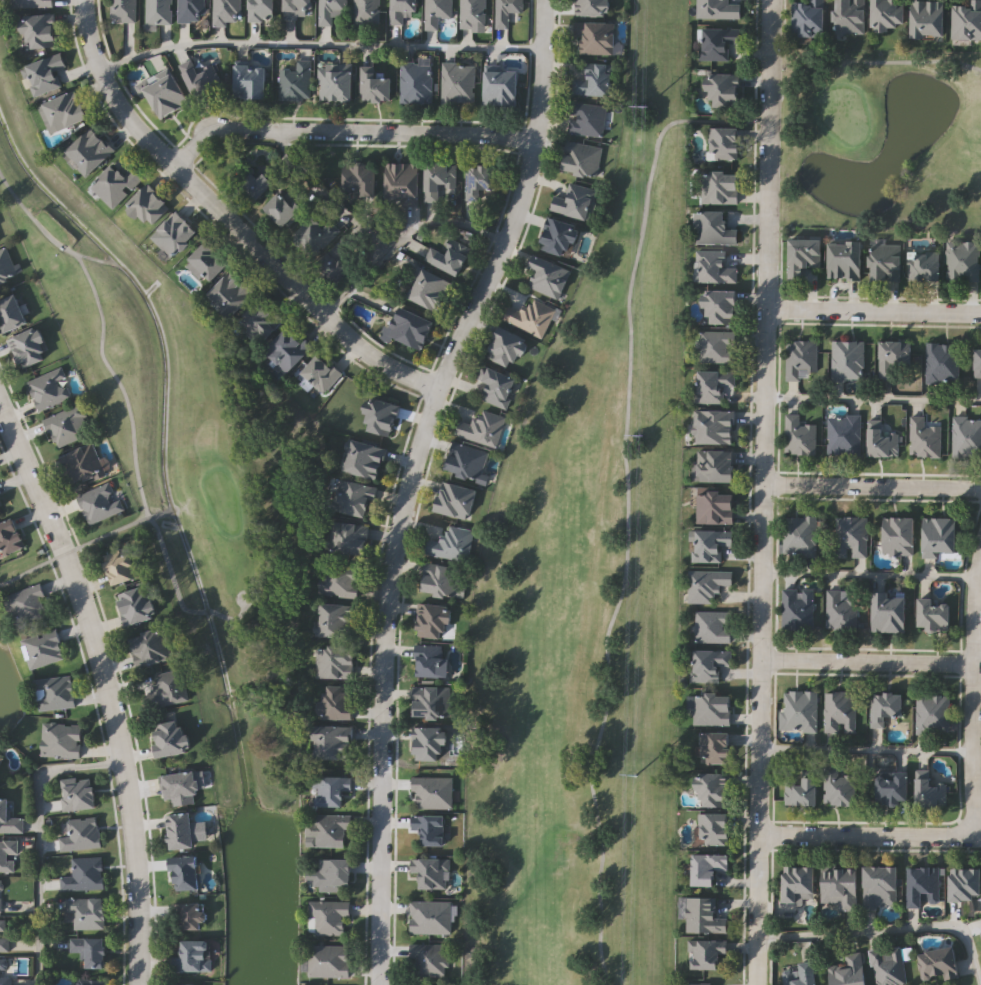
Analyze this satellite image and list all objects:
building: (32, 3)
building: (593, 7)
building: (720, 8)
building: (299, 9)
building: (401, 9)
building: (123, 10)
building: (191, 10)
building: (262, 10)
building: (331, 10)
building: (158, 11)
building: (436, 11)
building: (505, 11)
building: (227, 12)
building: (366, 12)
building: (473, 13)
building: (889, 14)
building: (852, 16)
building: (809, 17)
building: (930, 18)
building: (967, 20)
building: (40, 30)
building: (595, 36)
building: (718, 42)
road: (321, 44)
building: (44, 73)
building: (203, 78)
building: (594, 79)
building: (251, 81)
building: (295, 81)
building: (415, 82)
building: (458, 82)
building: (335, 83)
building: (377, 86)
building: (501, 87)
building: (723, 89)
building: (166, 94)
building: (63, 111)
building: (586, 118)
road: (348, 132)
building: (723, 143)
building: (90, 151)
building: (581, 158)
building: (360, 178)
building: (438, 178)
building: (481, 179)
building: (403, 181)
building: (259, 183)
building: (116, 184)
building: (719, 187)
road: (328, 195)
building: (575, 201)
building: (149, 204)
building: (284, 209)
road: (229, 221)
road: (443, 221)
building: (715, 227)
building: (174, 233)
building: (314, 235)
building: (557, 236)
building: (449, 255)
building: (803, 255)
building: (844, 259)
building: (209, 260)
building: (336, 260)
building: (961, 260)
building: (885, 262)
building: (5, 264)
building: (715, 266)
building: (924, 266)
building: (548, 275)
road: (356, 284)
building: (430, 289)
building: (232, 292)
building: (721, 306)
road: (874, 308)
building: (12, 313)
building: (530, 316)
building: (261, 319)
building: (410, 326)
building: (506, 346)
building: (718, 346)
building: (29, 347)
building: (288, 348)
building: (799, 357)
building: (892, 357)
building: (978, 360)
building: (847, 361)
building: (941, 363)
building: (320, 373)
building: (713, 384)
building: (495, 385)
building: (49, 388)
road: (873, 399)
building: (380, 416)
building: (67, 424)
park: (173, 426)
building: (481, 427)
building: (714, 427)
building: (885, 433)
building: (843, 435)
building: (799, 436)
building: (923, 437)
building: (966, 437)
building: (364, 458)
building: (466, 462)
building: (82, 463)
building: (715, 465)
road: (410, 481)
road: (873, 488)
road: (764, 492)
building: (353, 497)
building: (454, 500)
building: (100, 501)
building: (715, 508)
building: (0, 513)
park: (642, 524)
building: (799, 535)
building: (898, 536)
building: (10, 537)
building: (347, 537)
building: (851, 537)
building: (939, 537)
building: (451, 544)
building: (710, 545)
building: (121, 567)
road: (869, 575)
building: (440, 579)
building: (338, 581)
building: (706, 585)
building: (26, 604)
building: (136, 605)
building: (797, 609)
building: (840, 612)
building: (889, 612)
building: (934, 615)
building: (338, 620)
building: (434, 620)
building: (713, 626)
building: (42, 647)
building: (150, 647)
building: (428, 660)
road: (867, 661)
building: (335, 662)
building: (709, 664)
road: (108, 687)
building: (167, 688)
park: (9, 690)
building: (54, 692)
road: (973, 693)
building: (338, 701)
building: (432, 702)
building: (885, 707)
building: (712, 708)
building: (799, 711)
building: (840, 712)
building: (933, 713)
building: (171, 737)
building: (61, 739)
building: (334, 742)
building: (431, 743)
building: (716, 748)
road: (866, 750)
building: (1, 759)
building: (182, 788)
building: (331, 789)
building: (839, 789)
building: (894, 789)
building: (714, 790)
building: (801, 791)
building: (432, 792)
building: (78, 793)
building: (931, 793)
building: (9, 818)
building: (430, 827)
building: (328, 829)
building: (714, 829)
building: (181, 830)
building: (82, 833)
road: (868, 836)
road: (37, 837)
building: (8, 855)
building: (708, 868)
building: (430, 871)
building: (186, 872)
building: (84, 873)
building: (333, 874)
building: (799, 884)
building: (965, 884)
building: (840, 886)
building: (879, 886)
building: (923, 886)
building: (1, 895)
building: (87, 911)
building: (702, 915)
building: (188, 916)
building: (328, 916)
building: (430, 916)
road: (887, 929)
building: (980, 933)
building: (3, 937)
building: (91, 950)
building: (707, 954)
building: (194, 956)
building: (328, 960)
building: (428, 960)
building: (938, 964)
building: (887, 965)
building: (4, 971)
building: (849, 971)
building: (802, 974)
building: (182, 984)
building: (700, 984)

